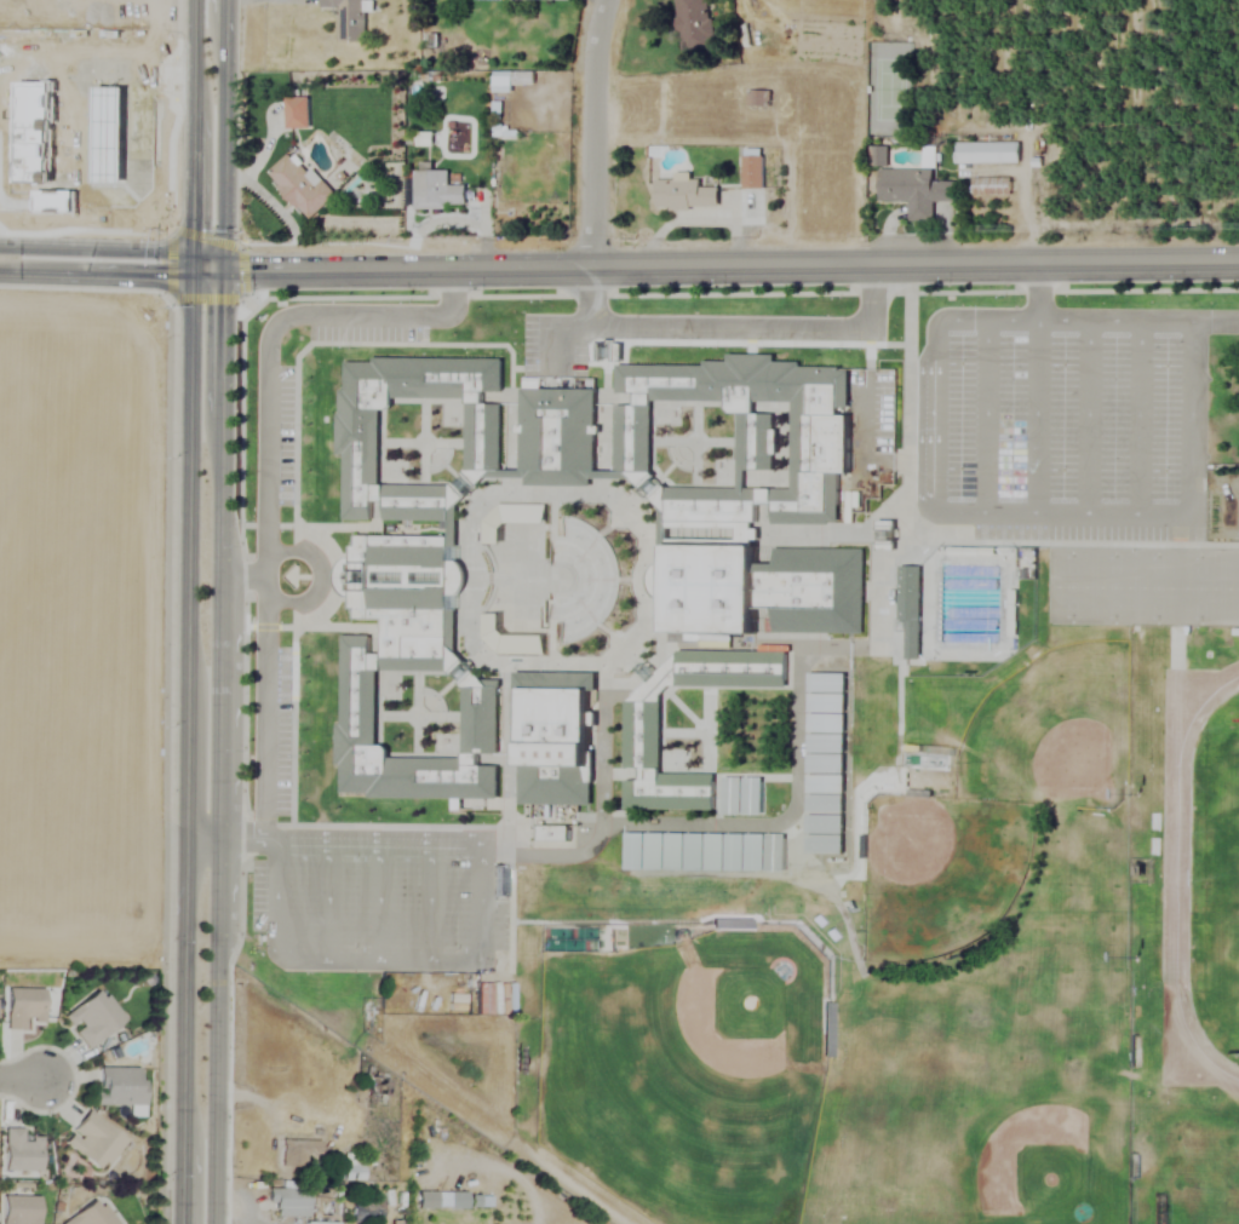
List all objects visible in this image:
building: (350, 19)
building: (695, 24)
crop: (81, 109)
building: (297, 114)
road: (595, 134)
road: (223, 136)
building: (987, 153)
building: (879, 156)
building: (753, 173)
building: (991, 186)
building: (300, 188)
building: (913, 191)
building: (437, 192)
building: (686, 195)
road: (113, 246)
road: (730, 268)
road: (110, 275)
road: (591, 294)
road: (1109, 316)
road: (753, 318)
road: (555, 324)
building: (608, 352)
road: (866, 420)
building: (362, 433)
building: (560, 438)
road: (268, 496)
building: (752, 499)
road: (1015, 508)
building: (889, 536)
road: (242, 573)
park: (1069, 581)
park: (1114, 582)
park: (1157, 582)
park: (1199, 582)
park: (1229, 582)
building: (912, 609)
road: (188, 611)
crop: (78, 619)
building: (406, 663)
building: (644, 737)
building: (555, 739)
road: (217, 748)
building: (828, 763)
road: (769, 817)
road: (600, 822)
road: (202, 837)
building: (556, 837)
building: (696, 854)
road: (331, 896)
road: (378, 897)
road: (429, 897)
road: (481, 946)
building: (23, 1007)
building: (93, 1018)
building: (826, 1030)
road: (23, 1076)
building: (119, 1086)
building: (377, 1091)
building: (93, 1142)
building: (21, 1151)
building: (296, 1151)
building: (355, 1166)
building: (457, 1200)
building: (426, 1201)
building: (288, 1202)
building: (366, 1208)
building: (19, 1209)
building: (91, 1214)
building: (320, 1223)

